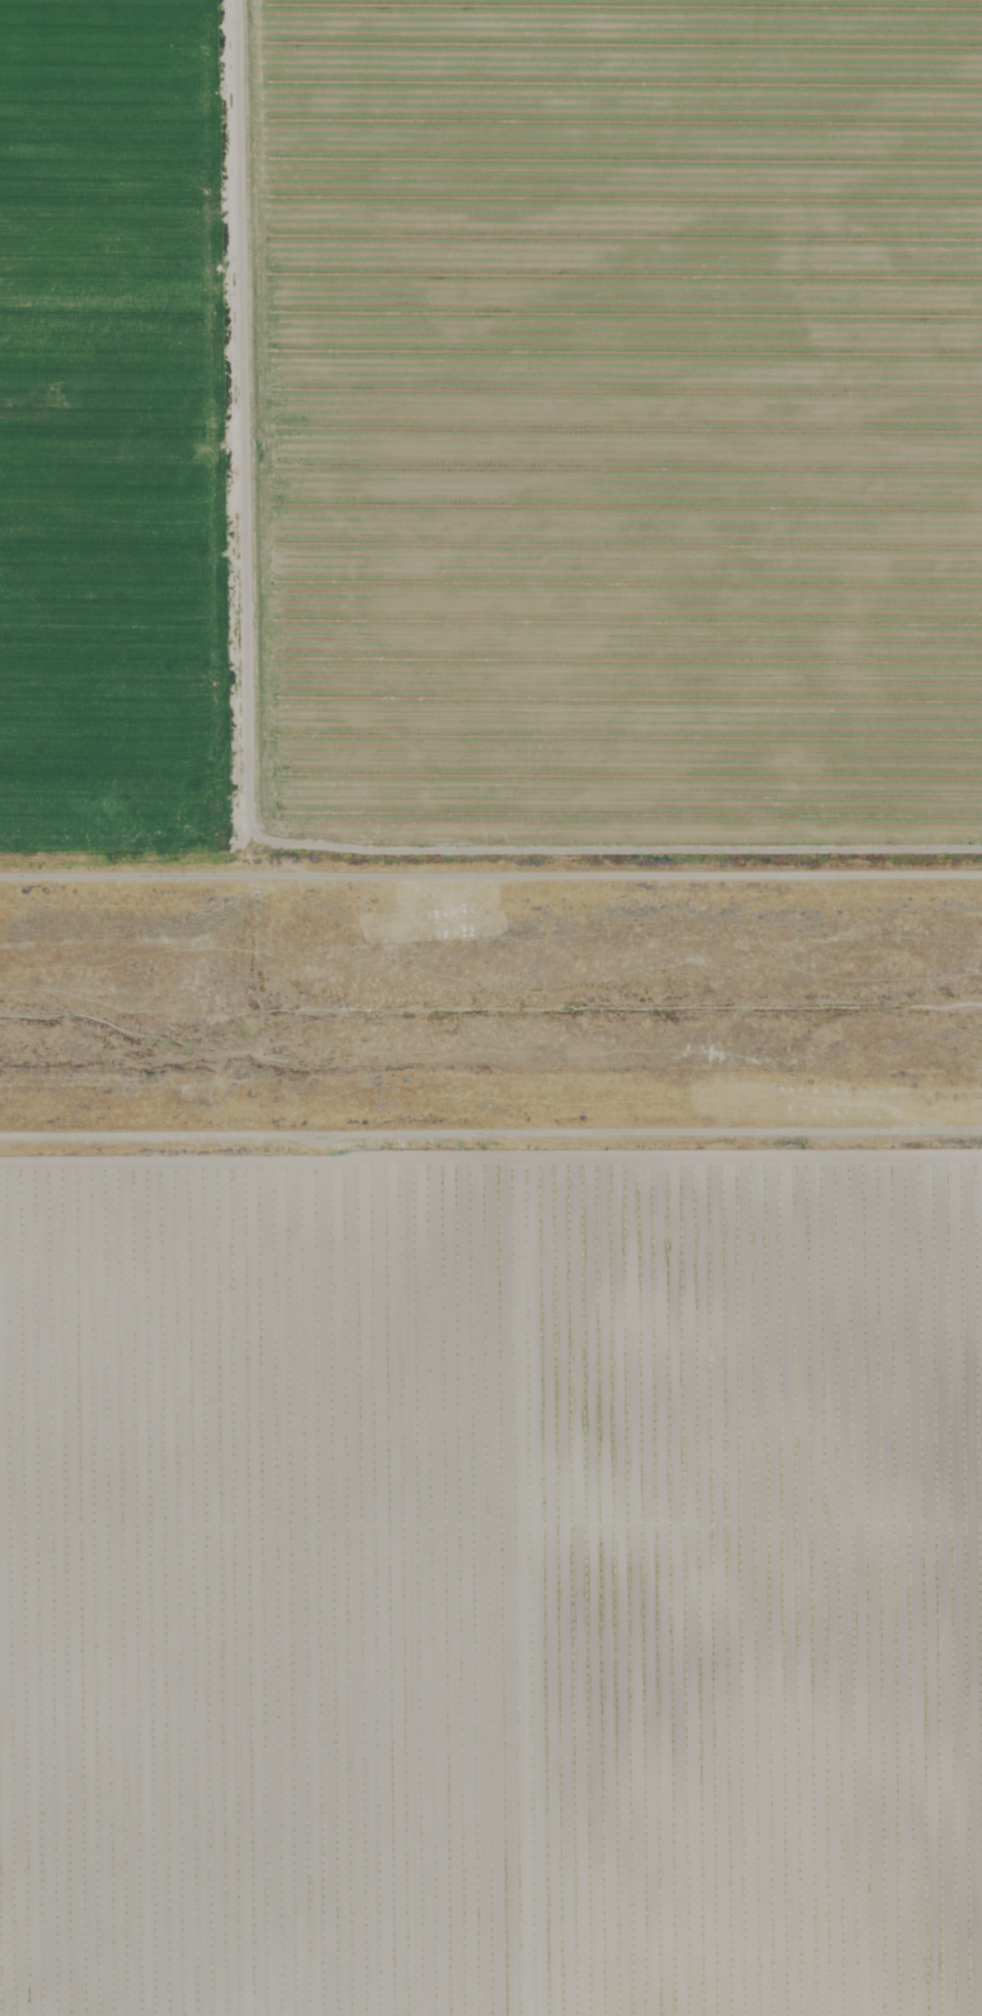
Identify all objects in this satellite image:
crop: (491, 435)
road: (491, 1139)
crop: (490, 1585)

